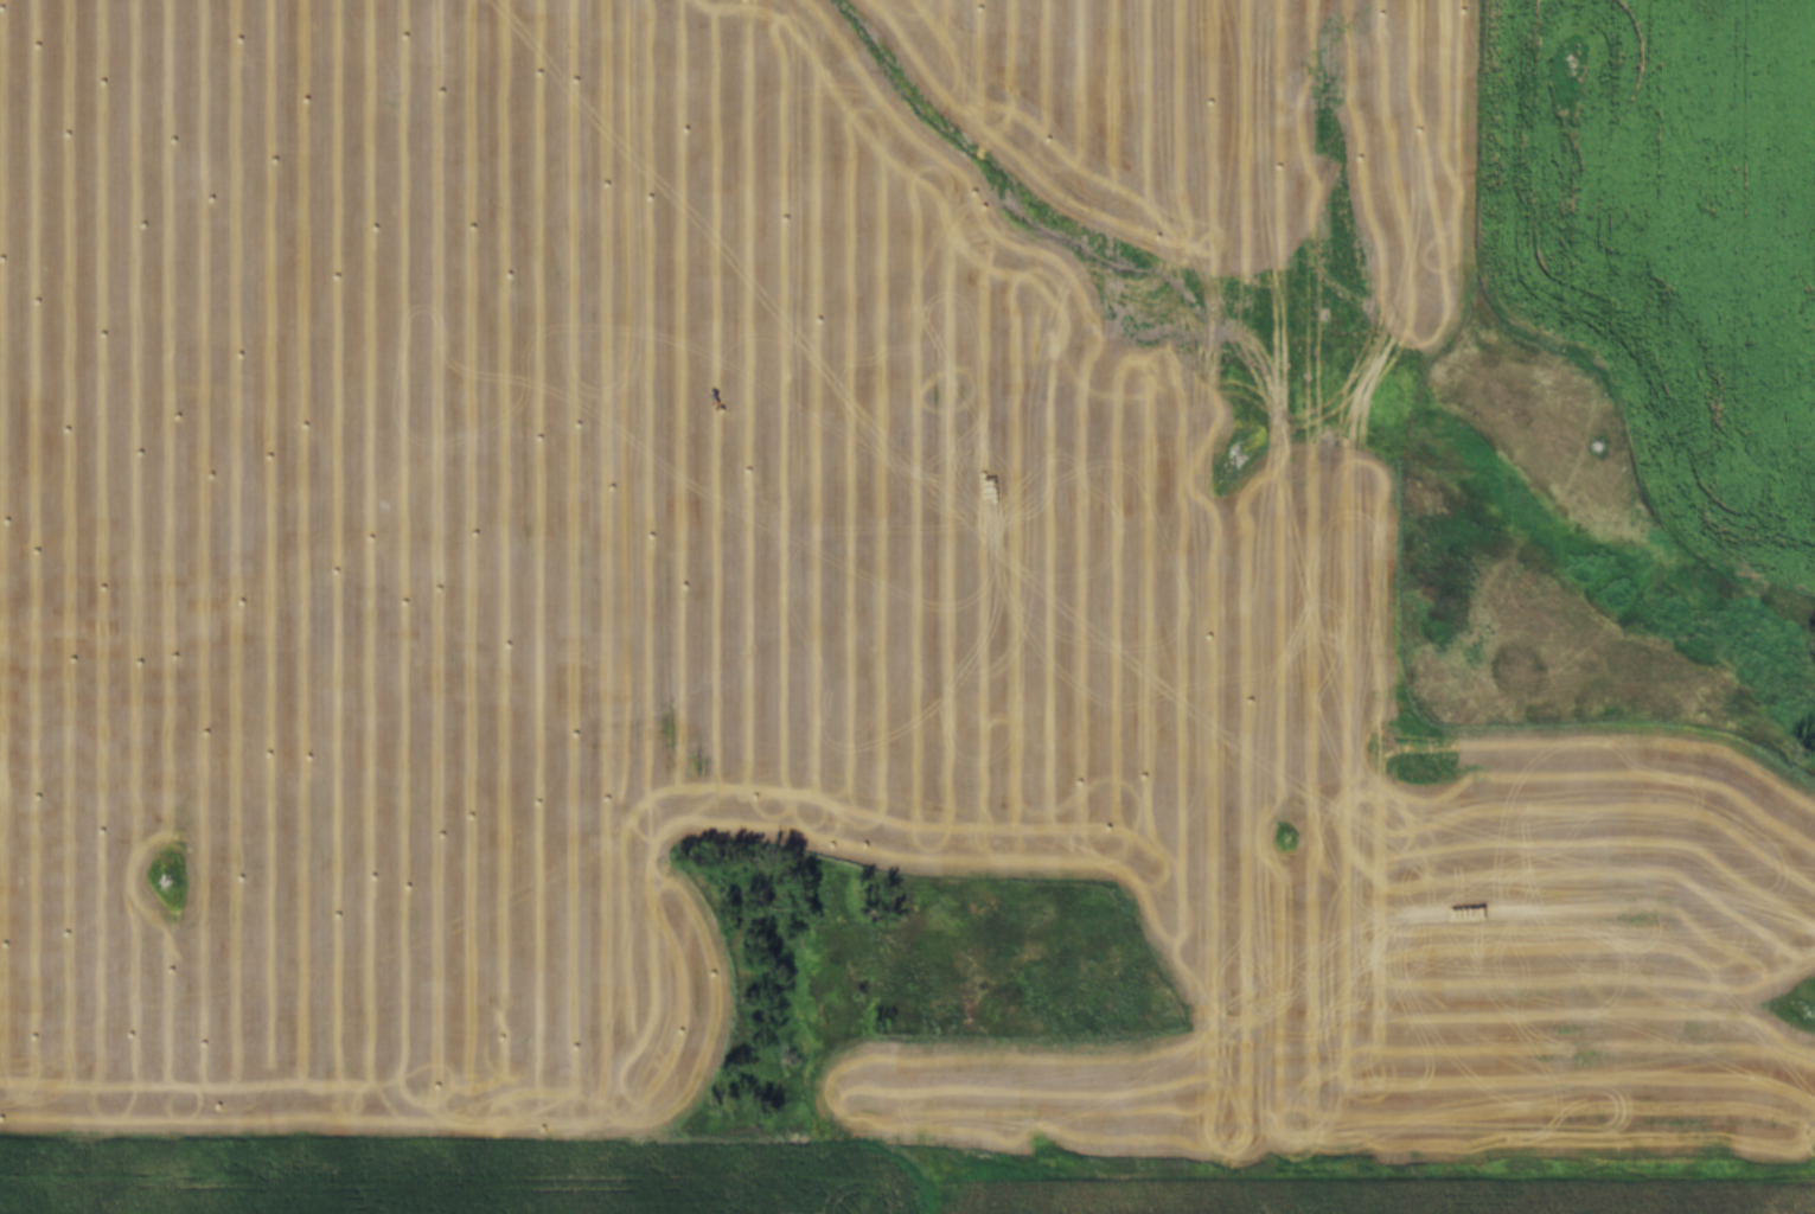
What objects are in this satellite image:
building: (978, 907)
road: (715, 1150)

